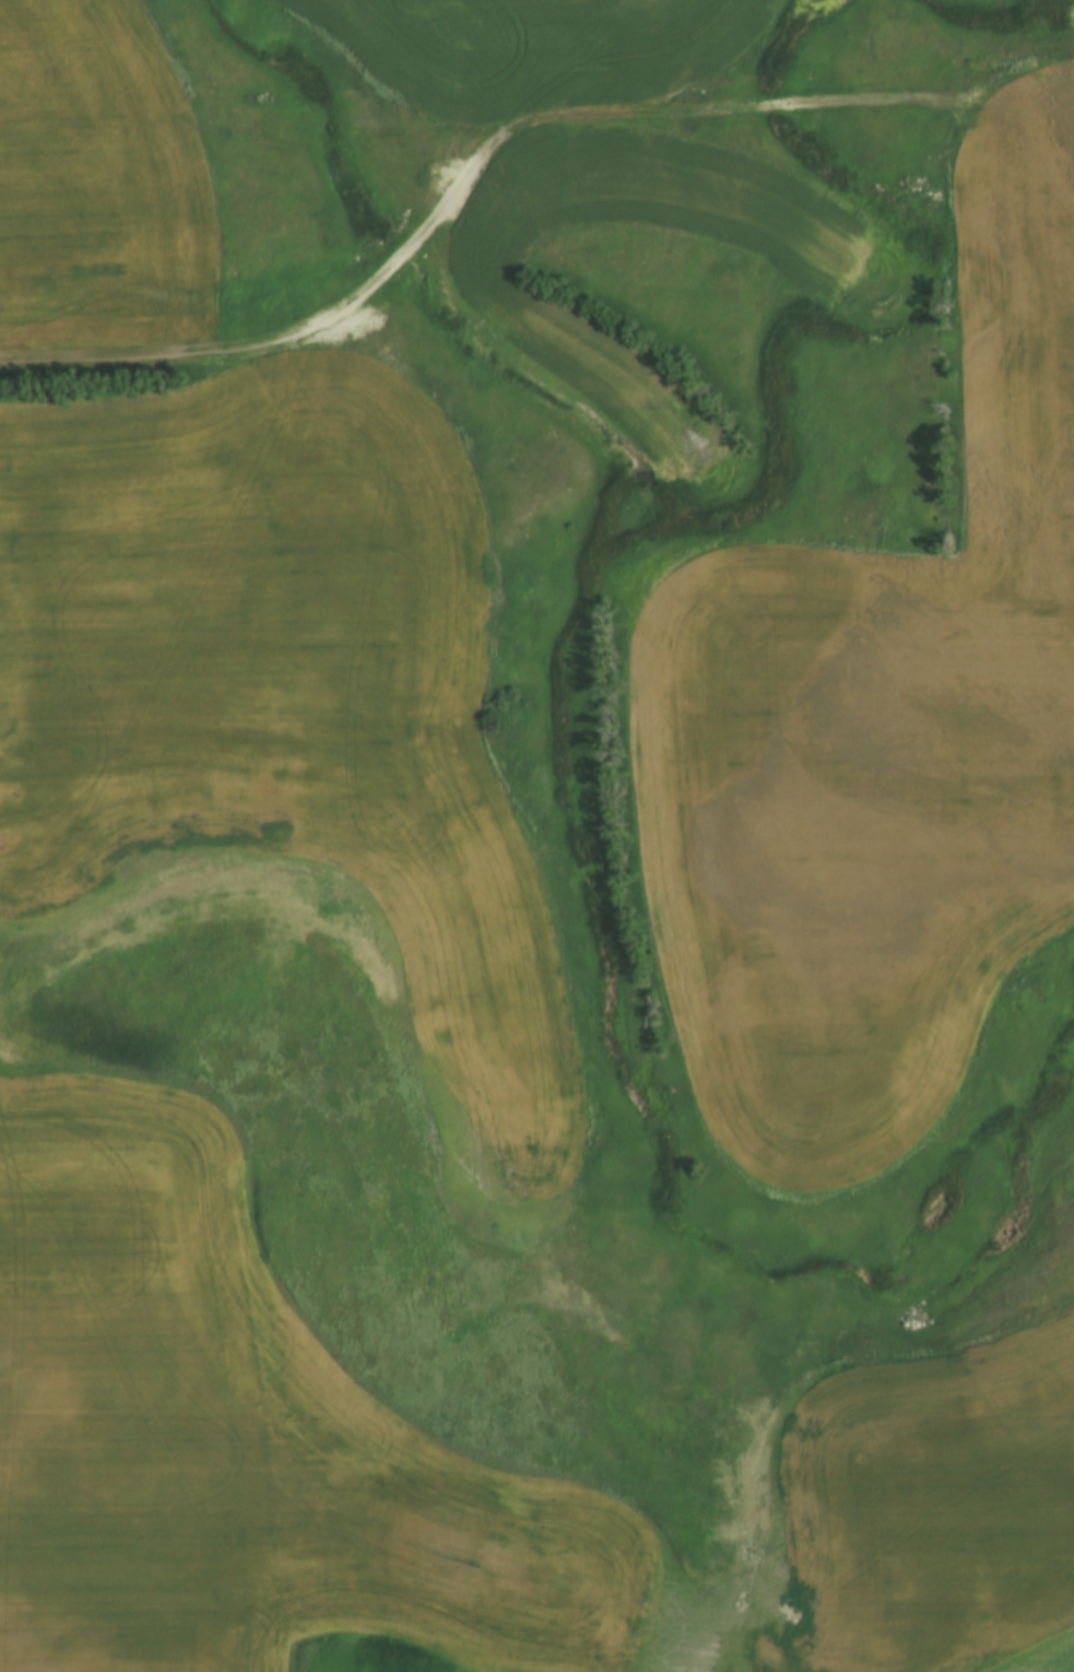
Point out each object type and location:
road: (278, 338)

